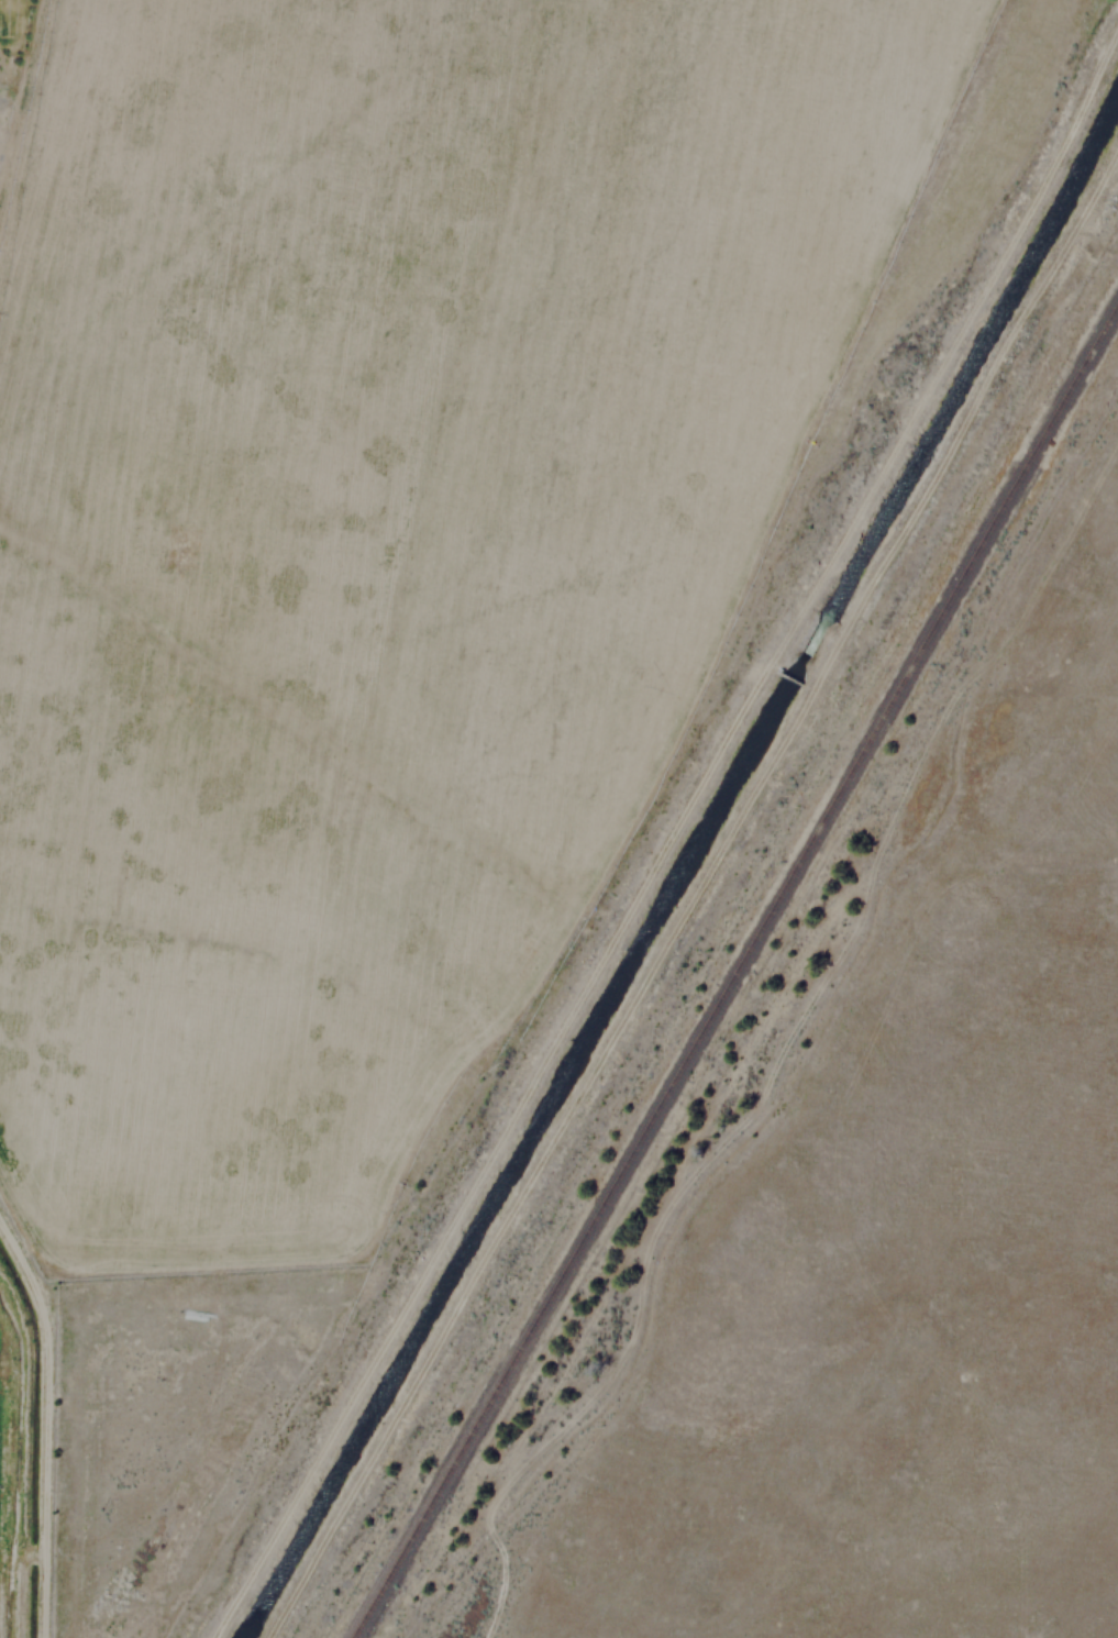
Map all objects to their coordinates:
road: (1107, 165)
railway: (738, 969)
road: (718, 1148)

